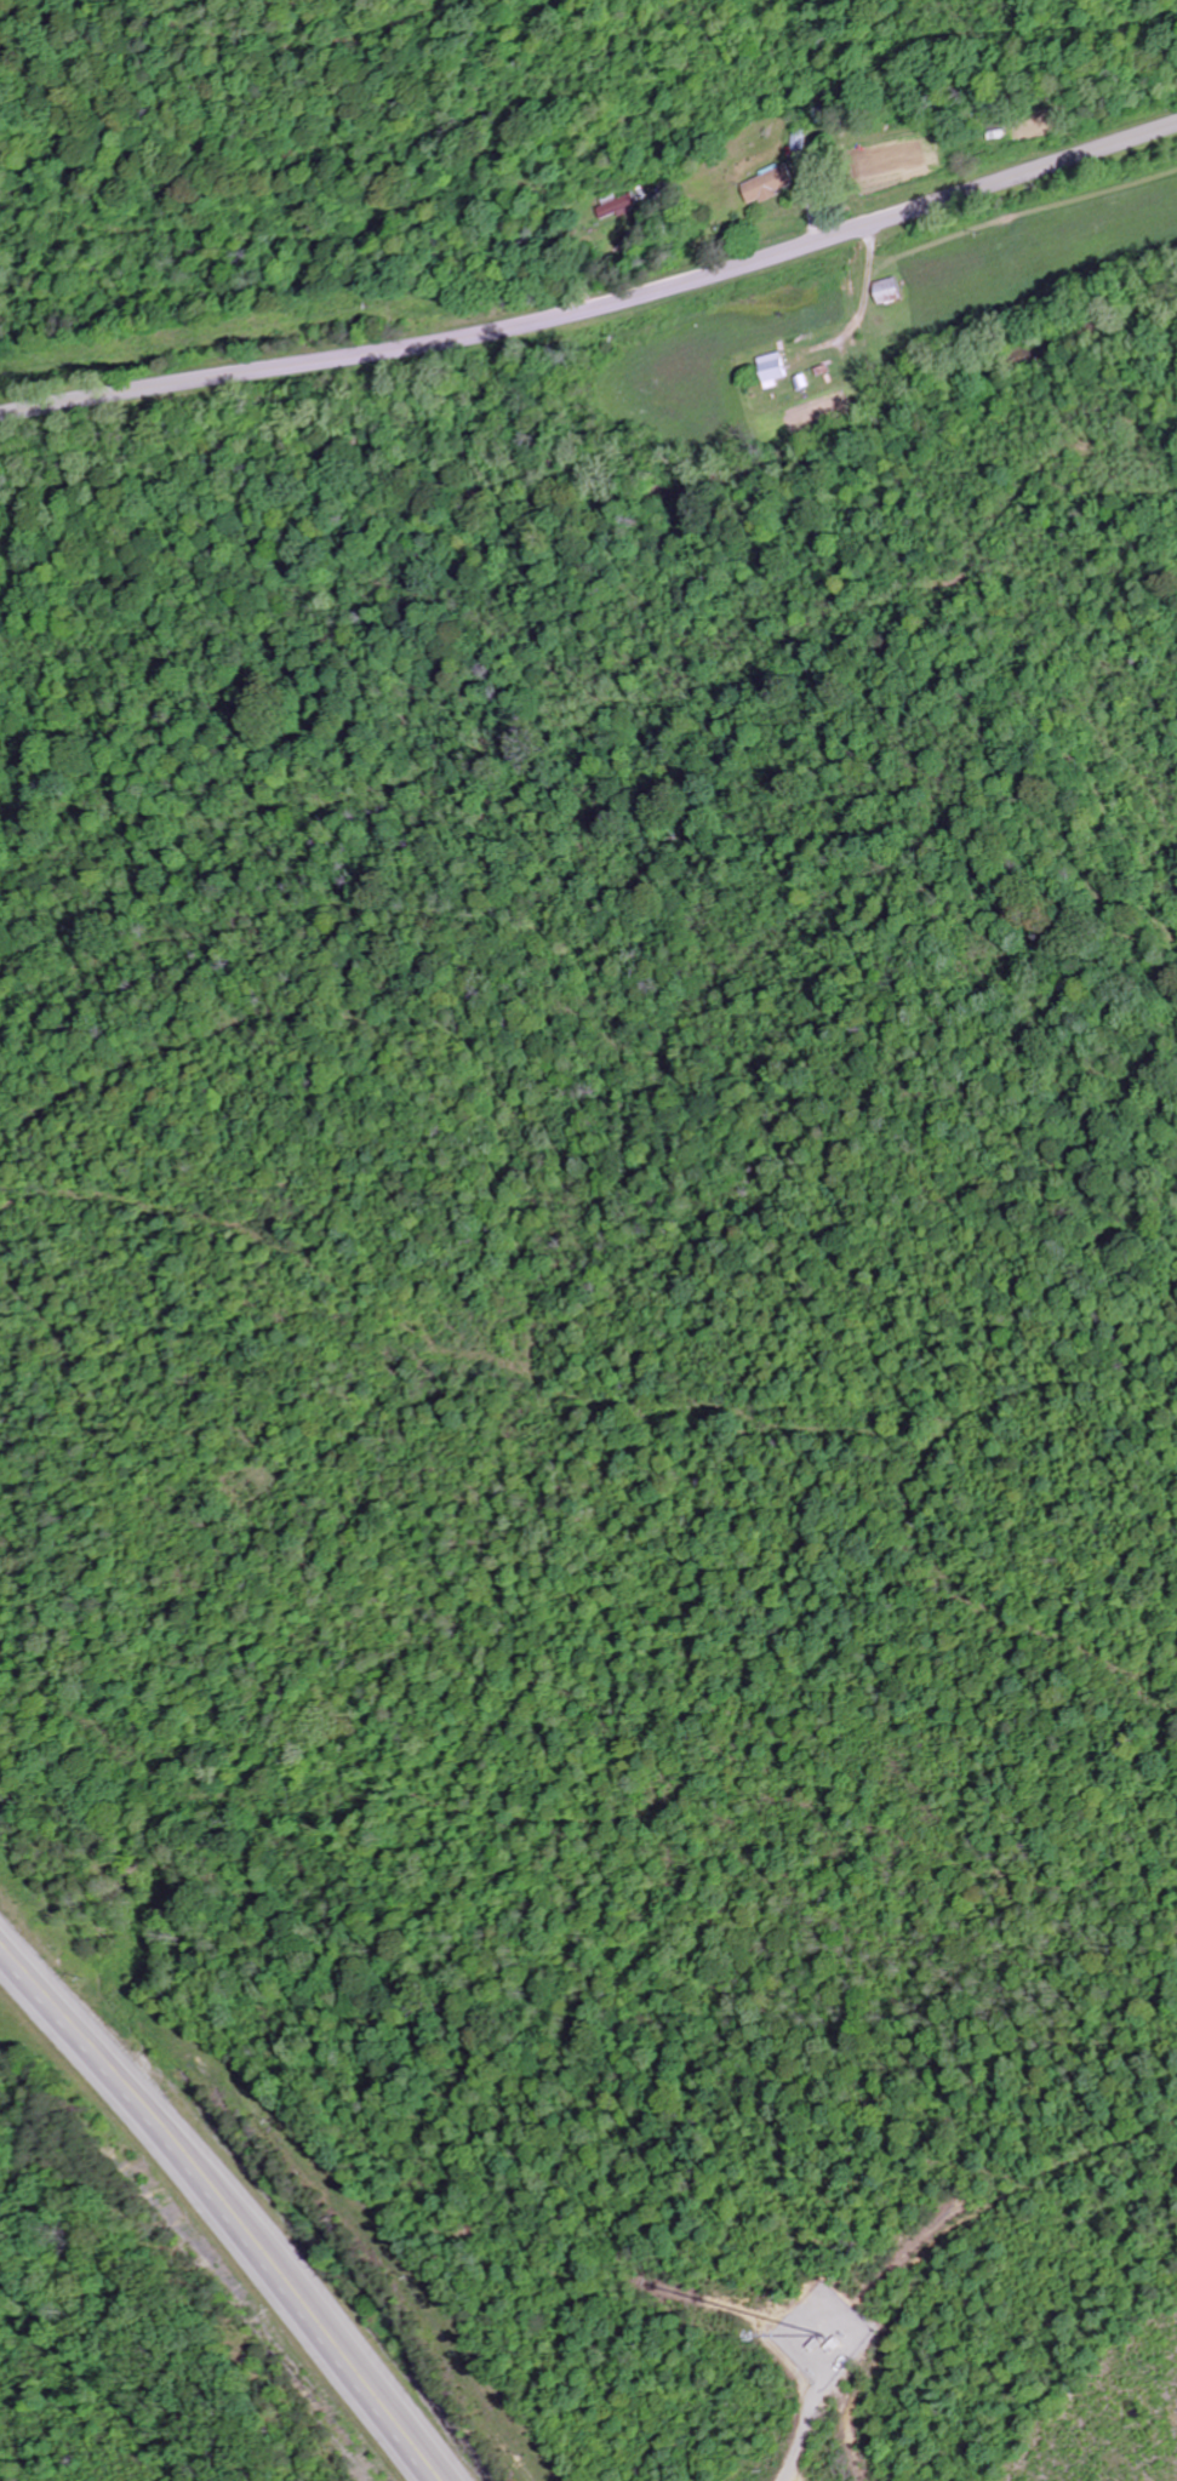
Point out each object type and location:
building: (766, 188)
road: (598, 308)
road: (211, 2207)
road: (800, 2436)

